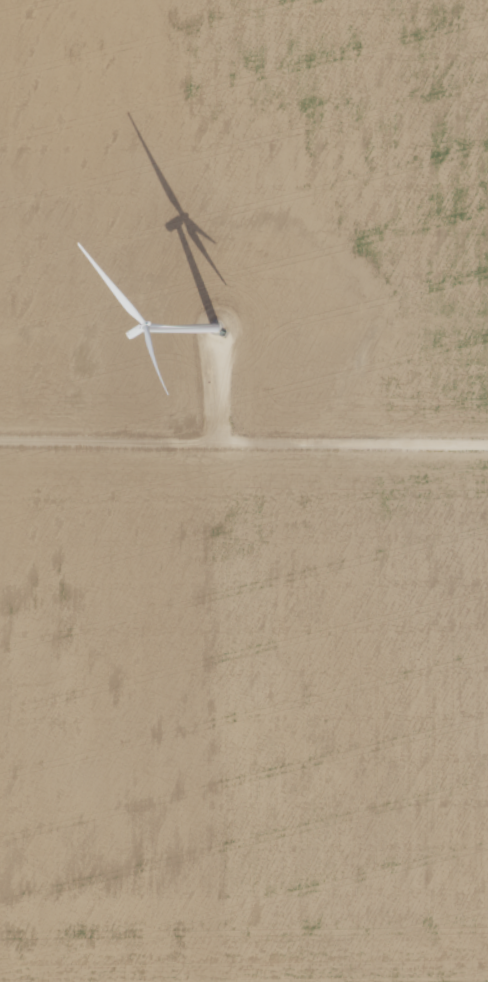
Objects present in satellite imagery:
wind turbine: (215, 330)

